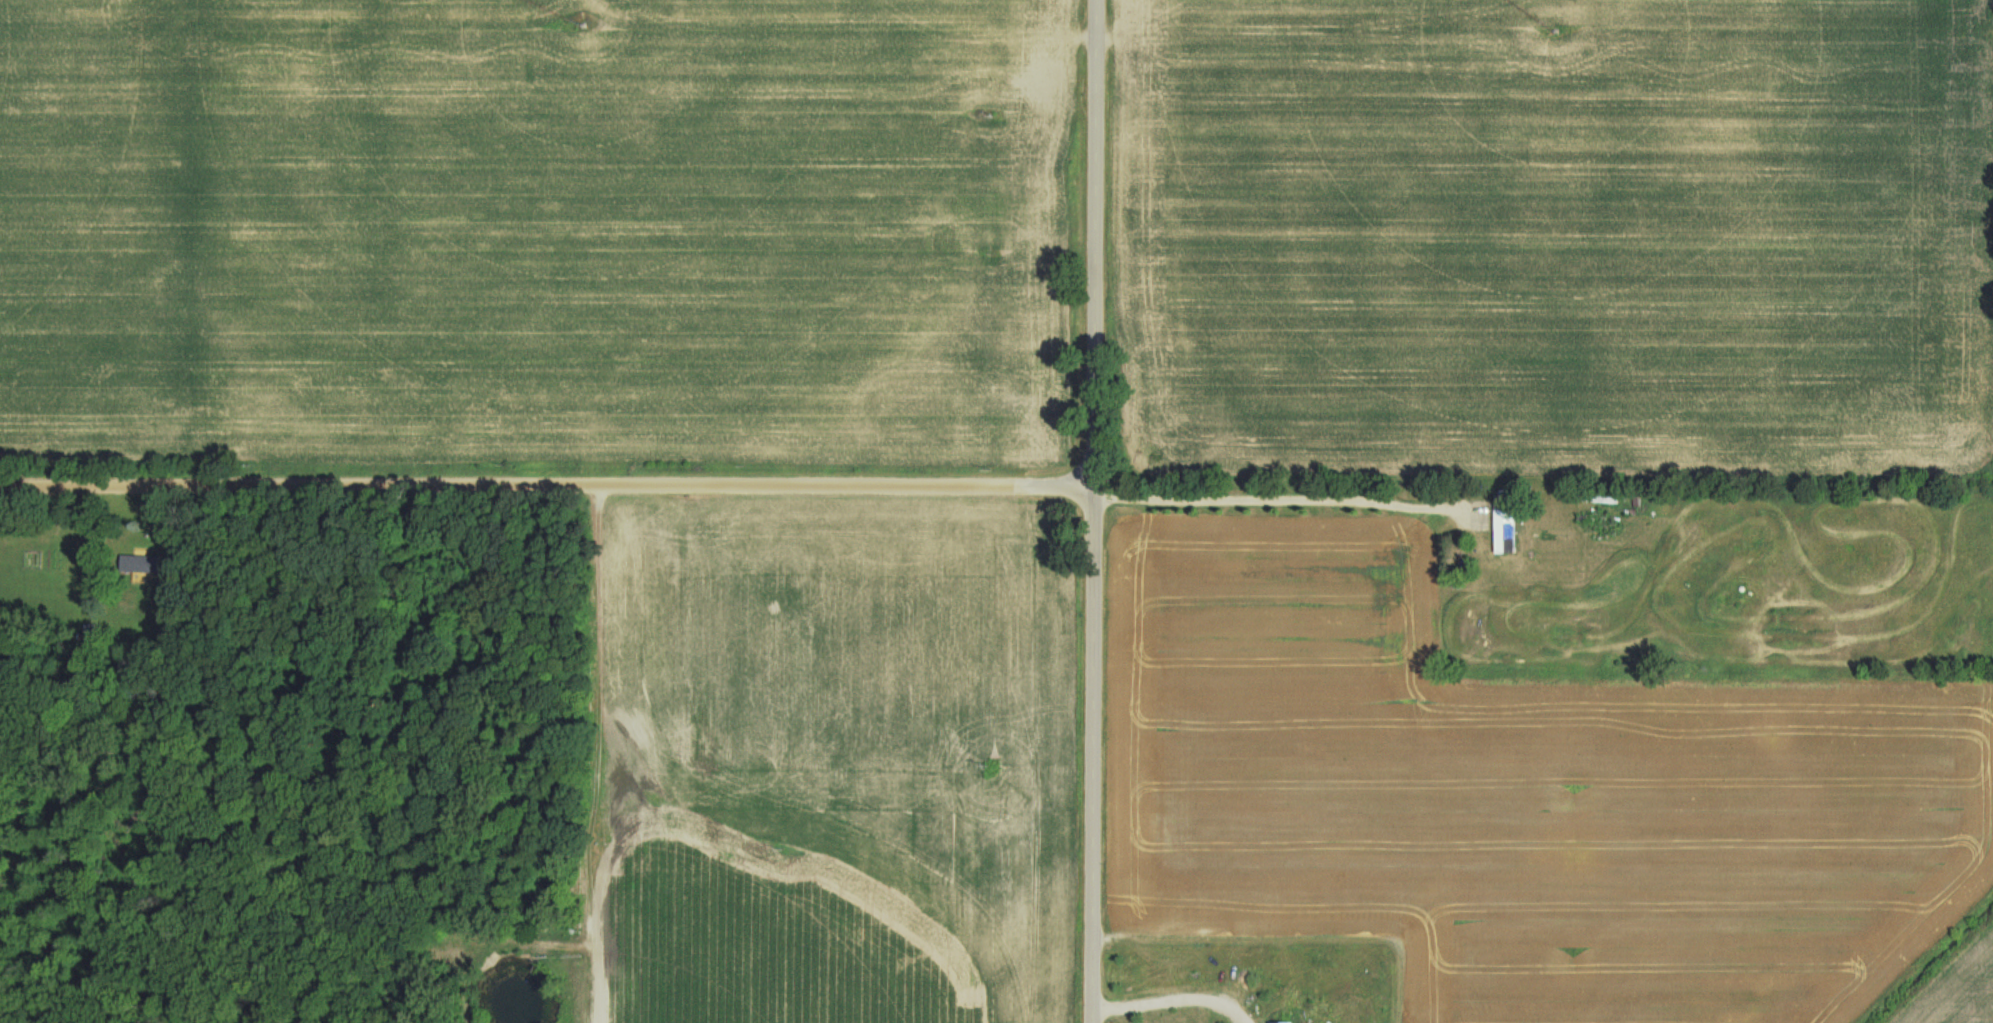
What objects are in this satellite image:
road: (547, 480)
road: (1094, 511)
building: (1503, 537)
building: (145, 563)
building: (1277, 1022)

